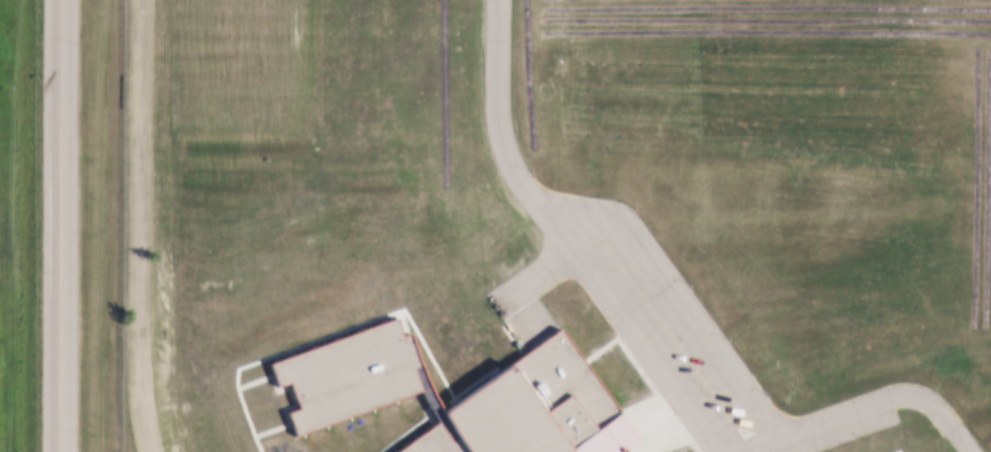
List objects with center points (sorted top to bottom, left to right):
road: (59, 226)
road: (138, 226)
road: (539, 274)
road: (680, 295)
parking lot: (703, 351)
road: (654, 360)
road: (648, 376)
building: (356, 382)
road: (243, 402)
road: (272, 427)
road: (654, 439)
road: (899, 450)

